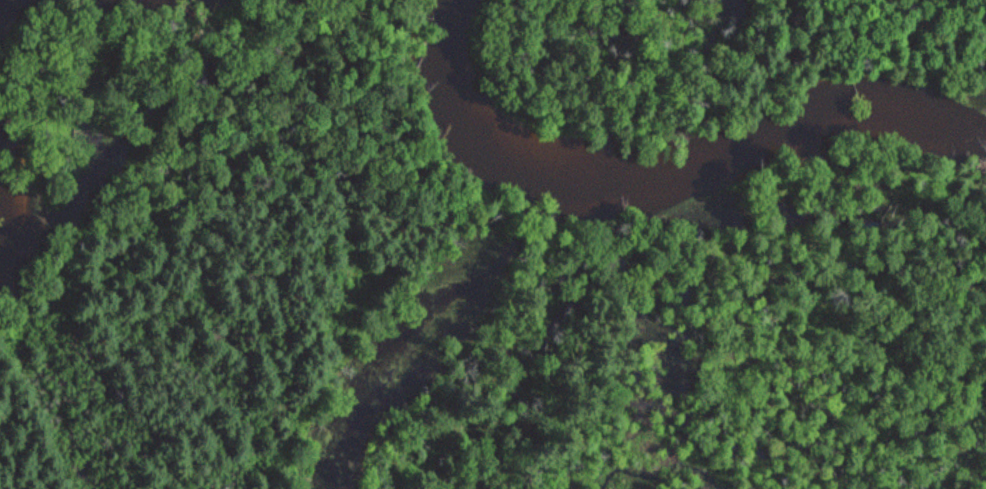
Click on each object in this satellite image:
river: (661, 173)

